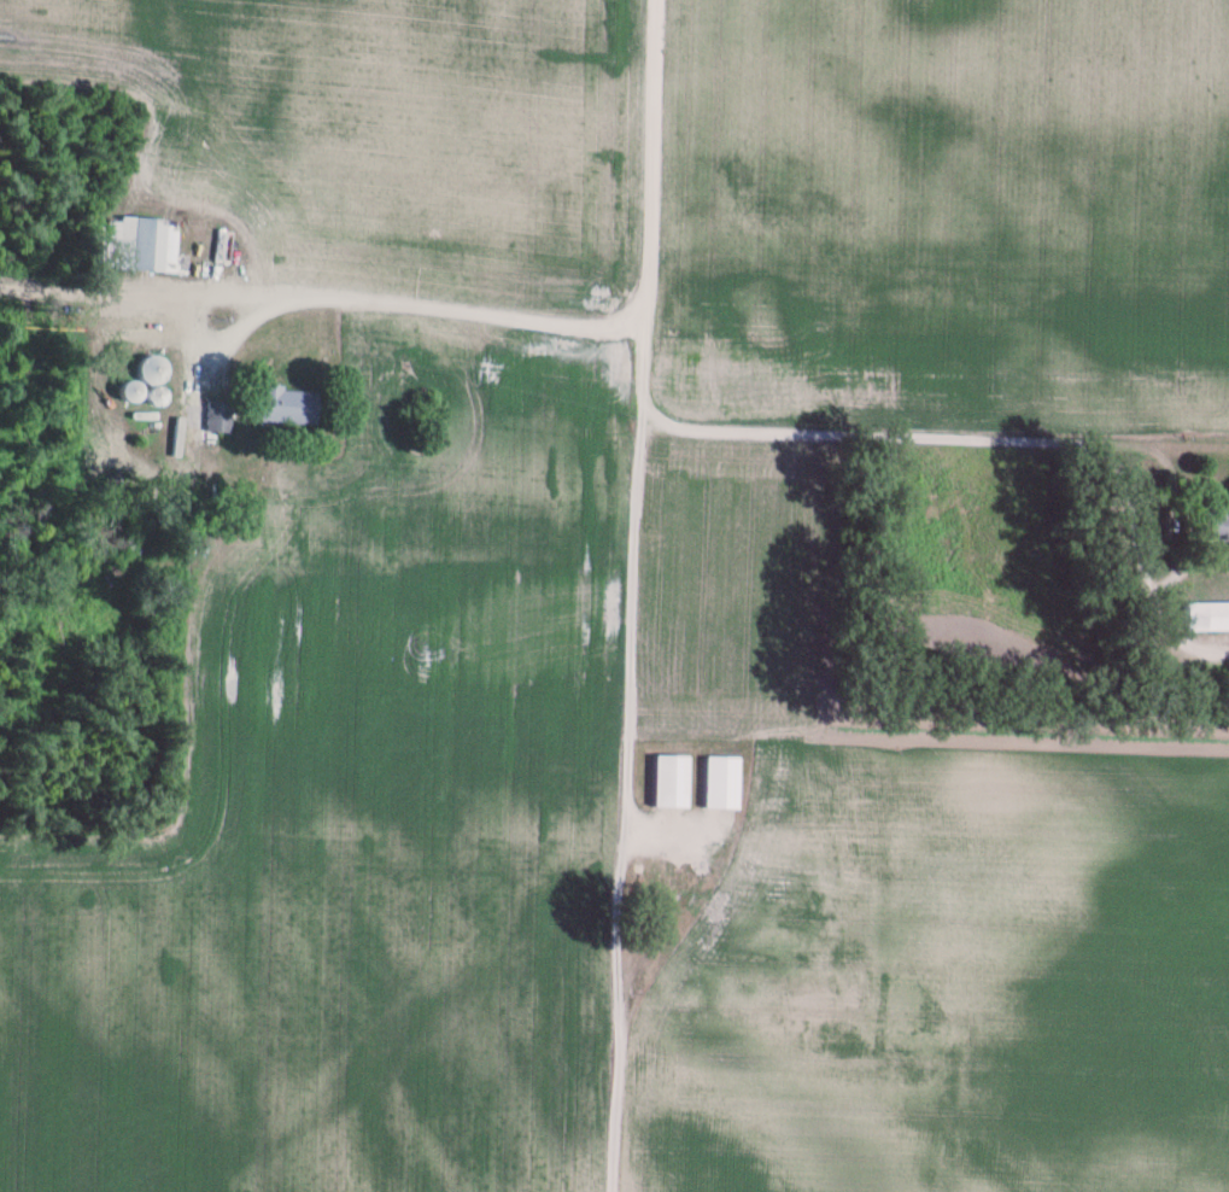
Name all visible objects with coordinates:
crop: (378, 138)
road: (645, 163)
building: (137, 245)
road: (139, 291)
road: (456, 312)
building: (150, 370)
building: (286, 407)
building: (213, 417)
road: (1014, 440)
building: (1213, 524)
building: (1205, 618)
road: (624, 759)
building: (720, 778)
building: (669, 783)

